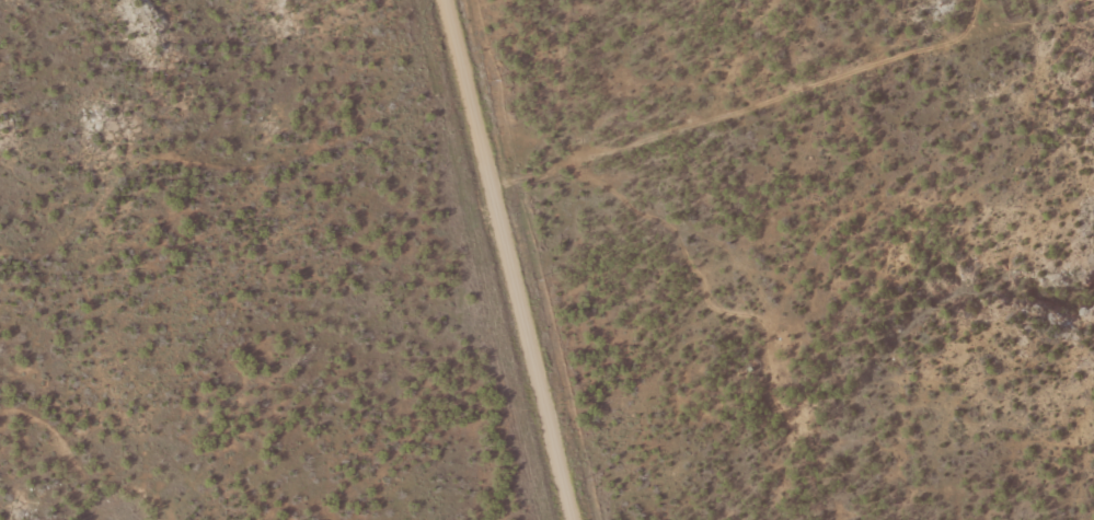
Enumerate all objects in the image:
road: (453, 97)
road: (492, 249)

